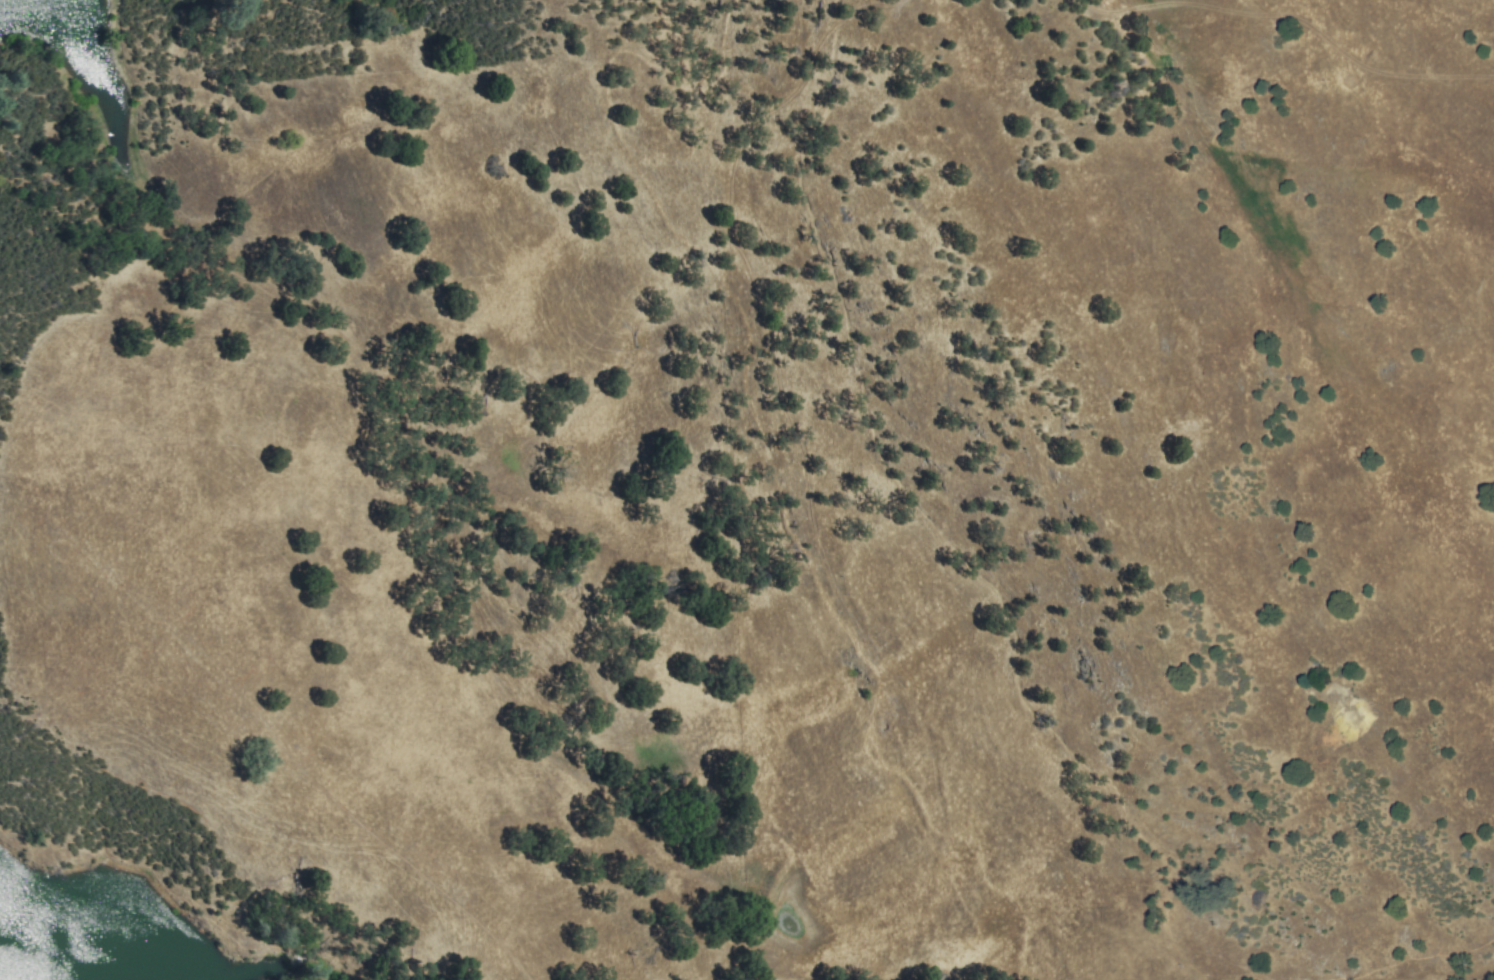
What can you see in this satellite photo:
road: (1296, 13)

